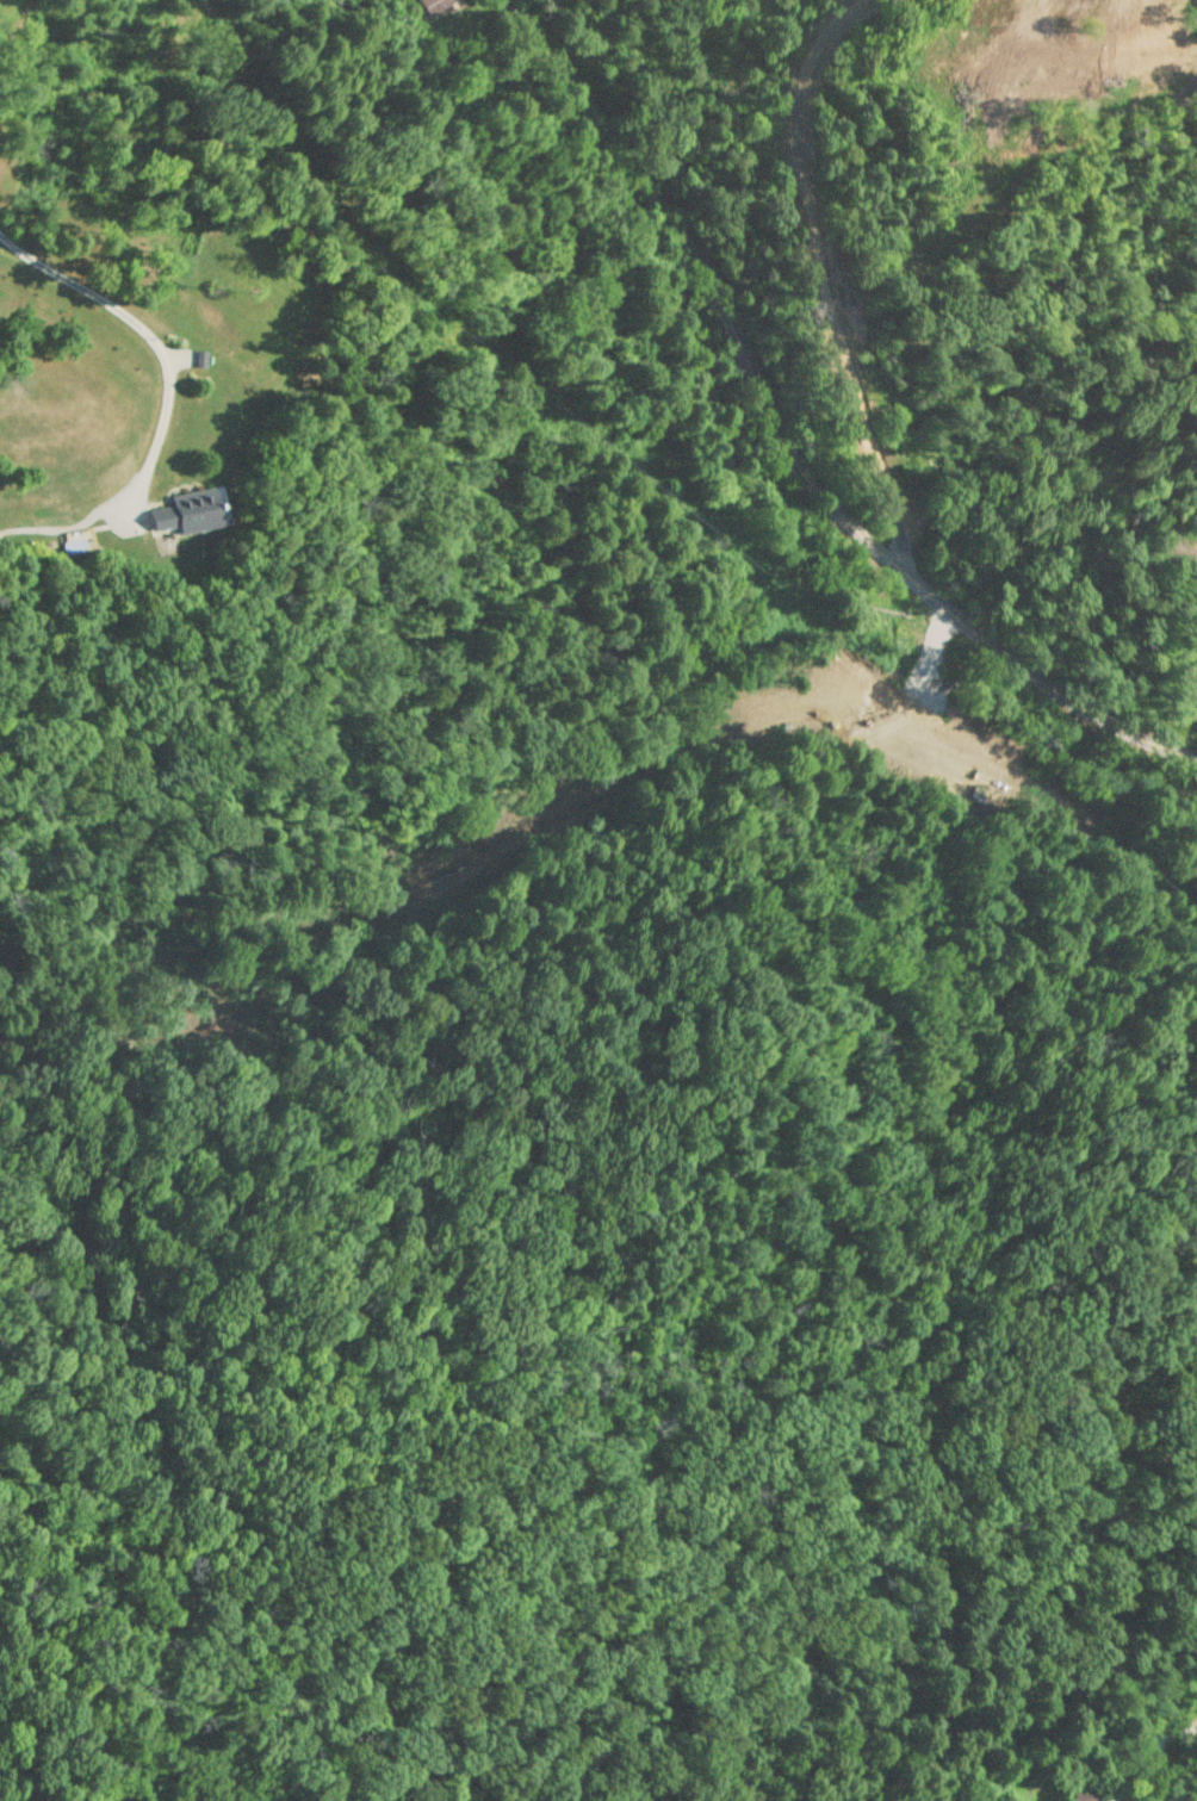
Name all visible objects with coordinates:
building: (433, 6)
building: (201, 359)
road: (781, 443)
building: (190, 511)
building: (1081, 1795)

